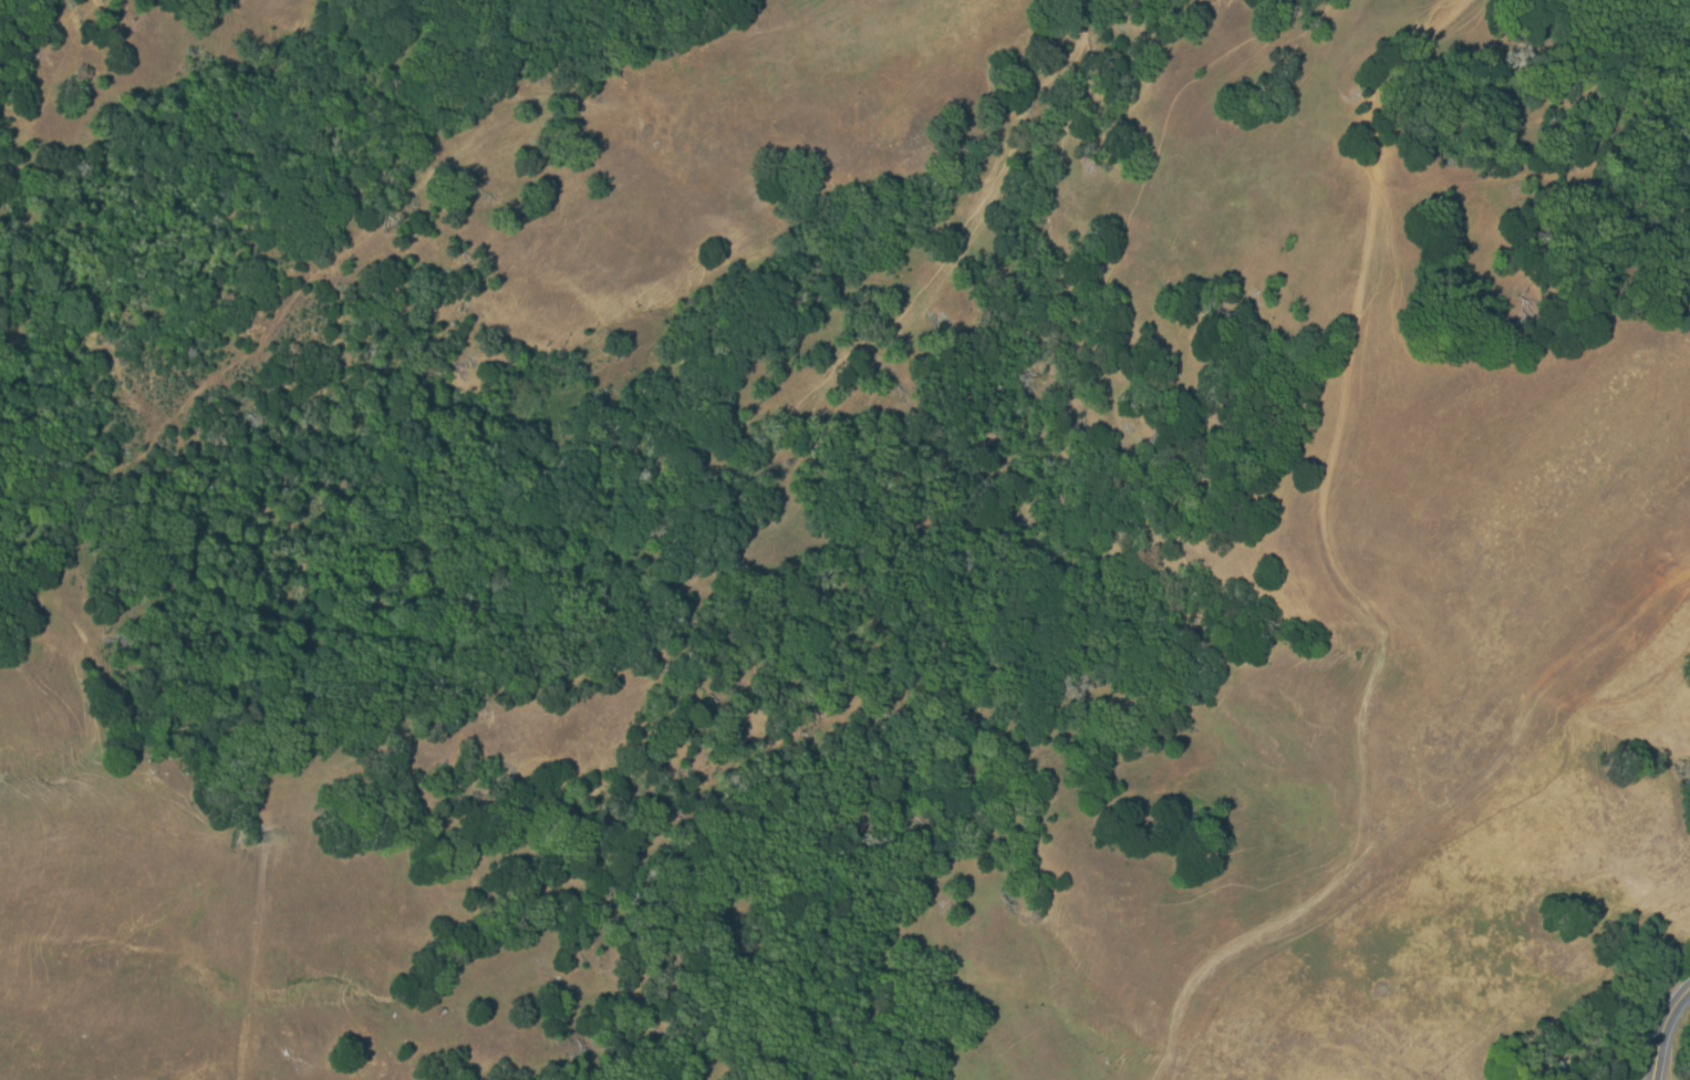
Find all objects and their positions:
road: (1676, 1037)

